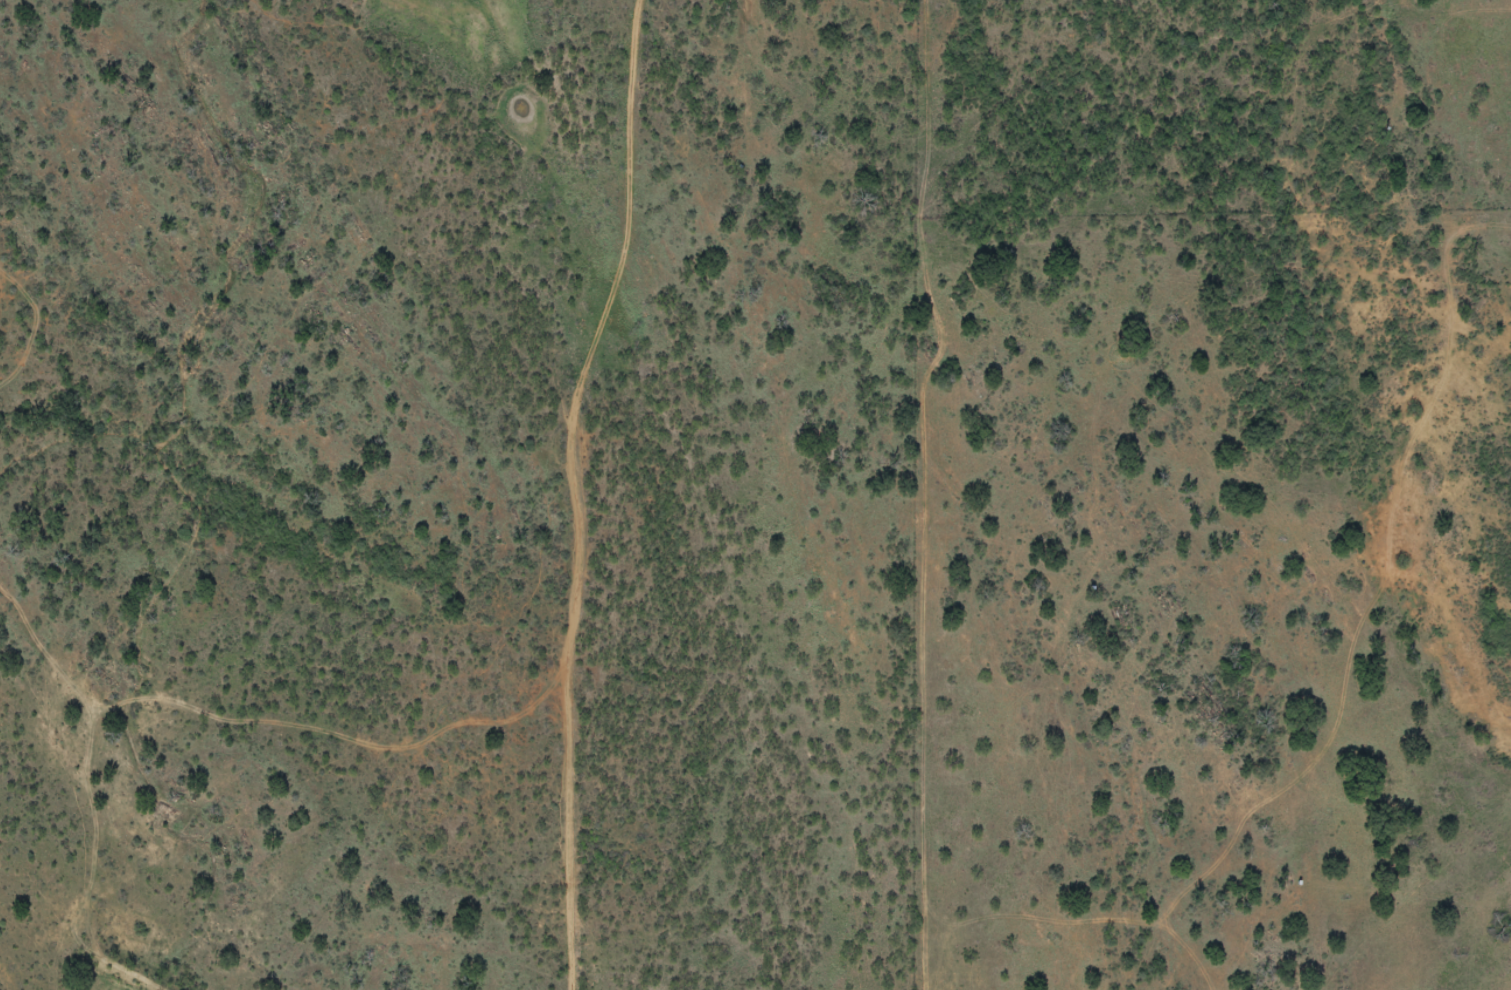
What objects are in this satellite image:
road: (615, 494)

